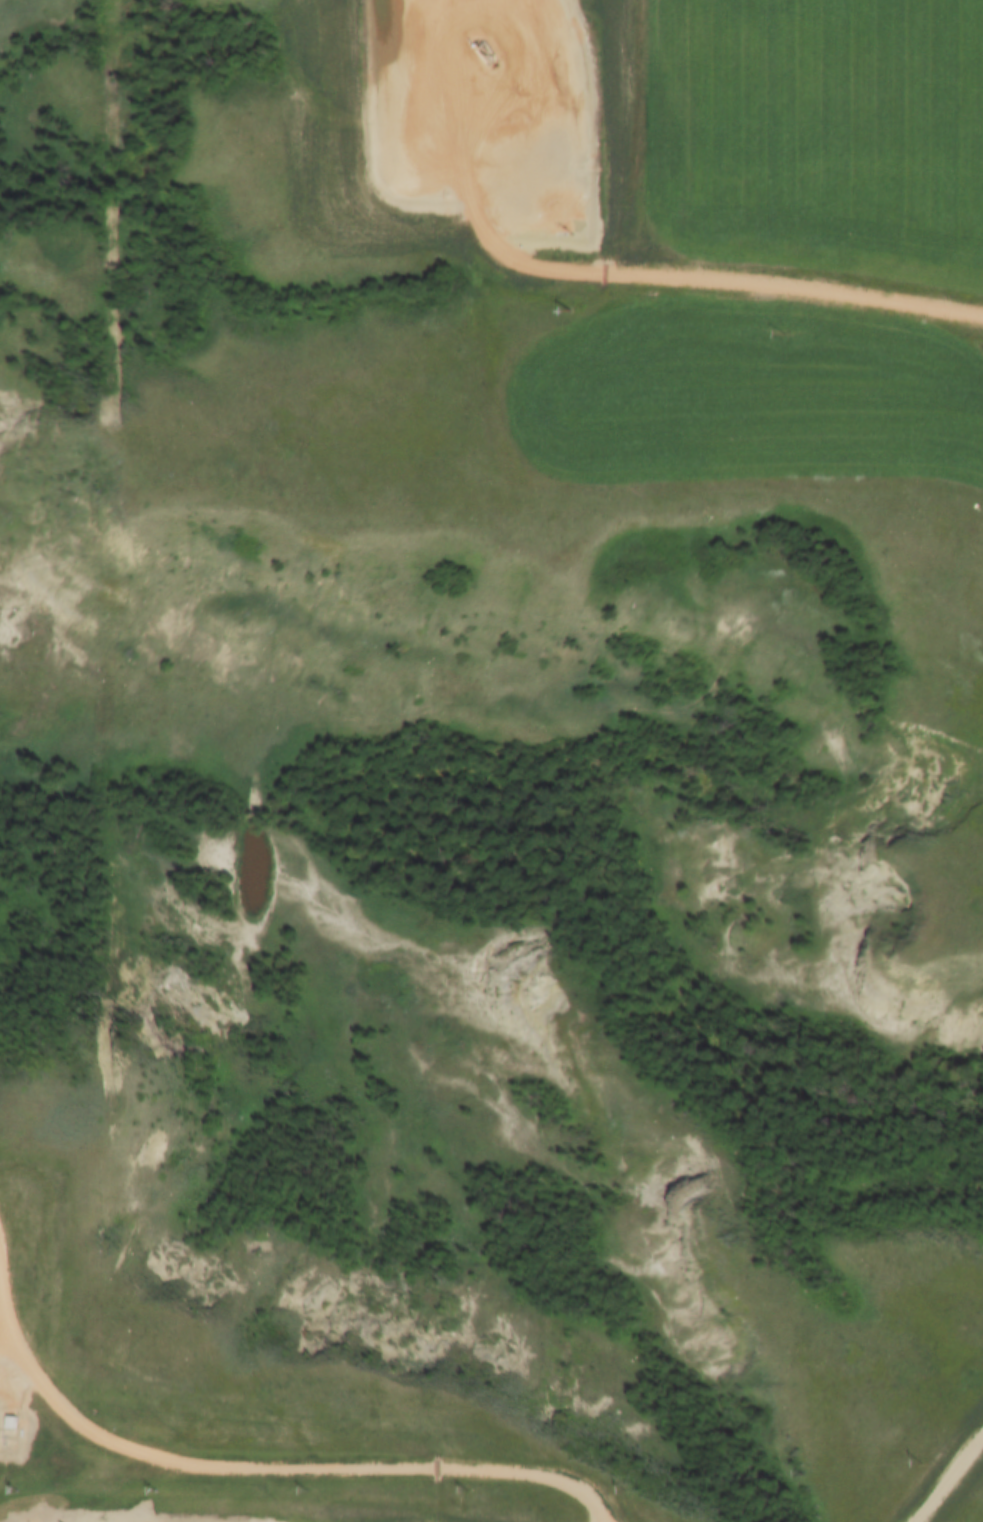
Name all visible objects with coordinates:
road: (687, 274)
road: (241, 1456)
road: (939, 1478)

